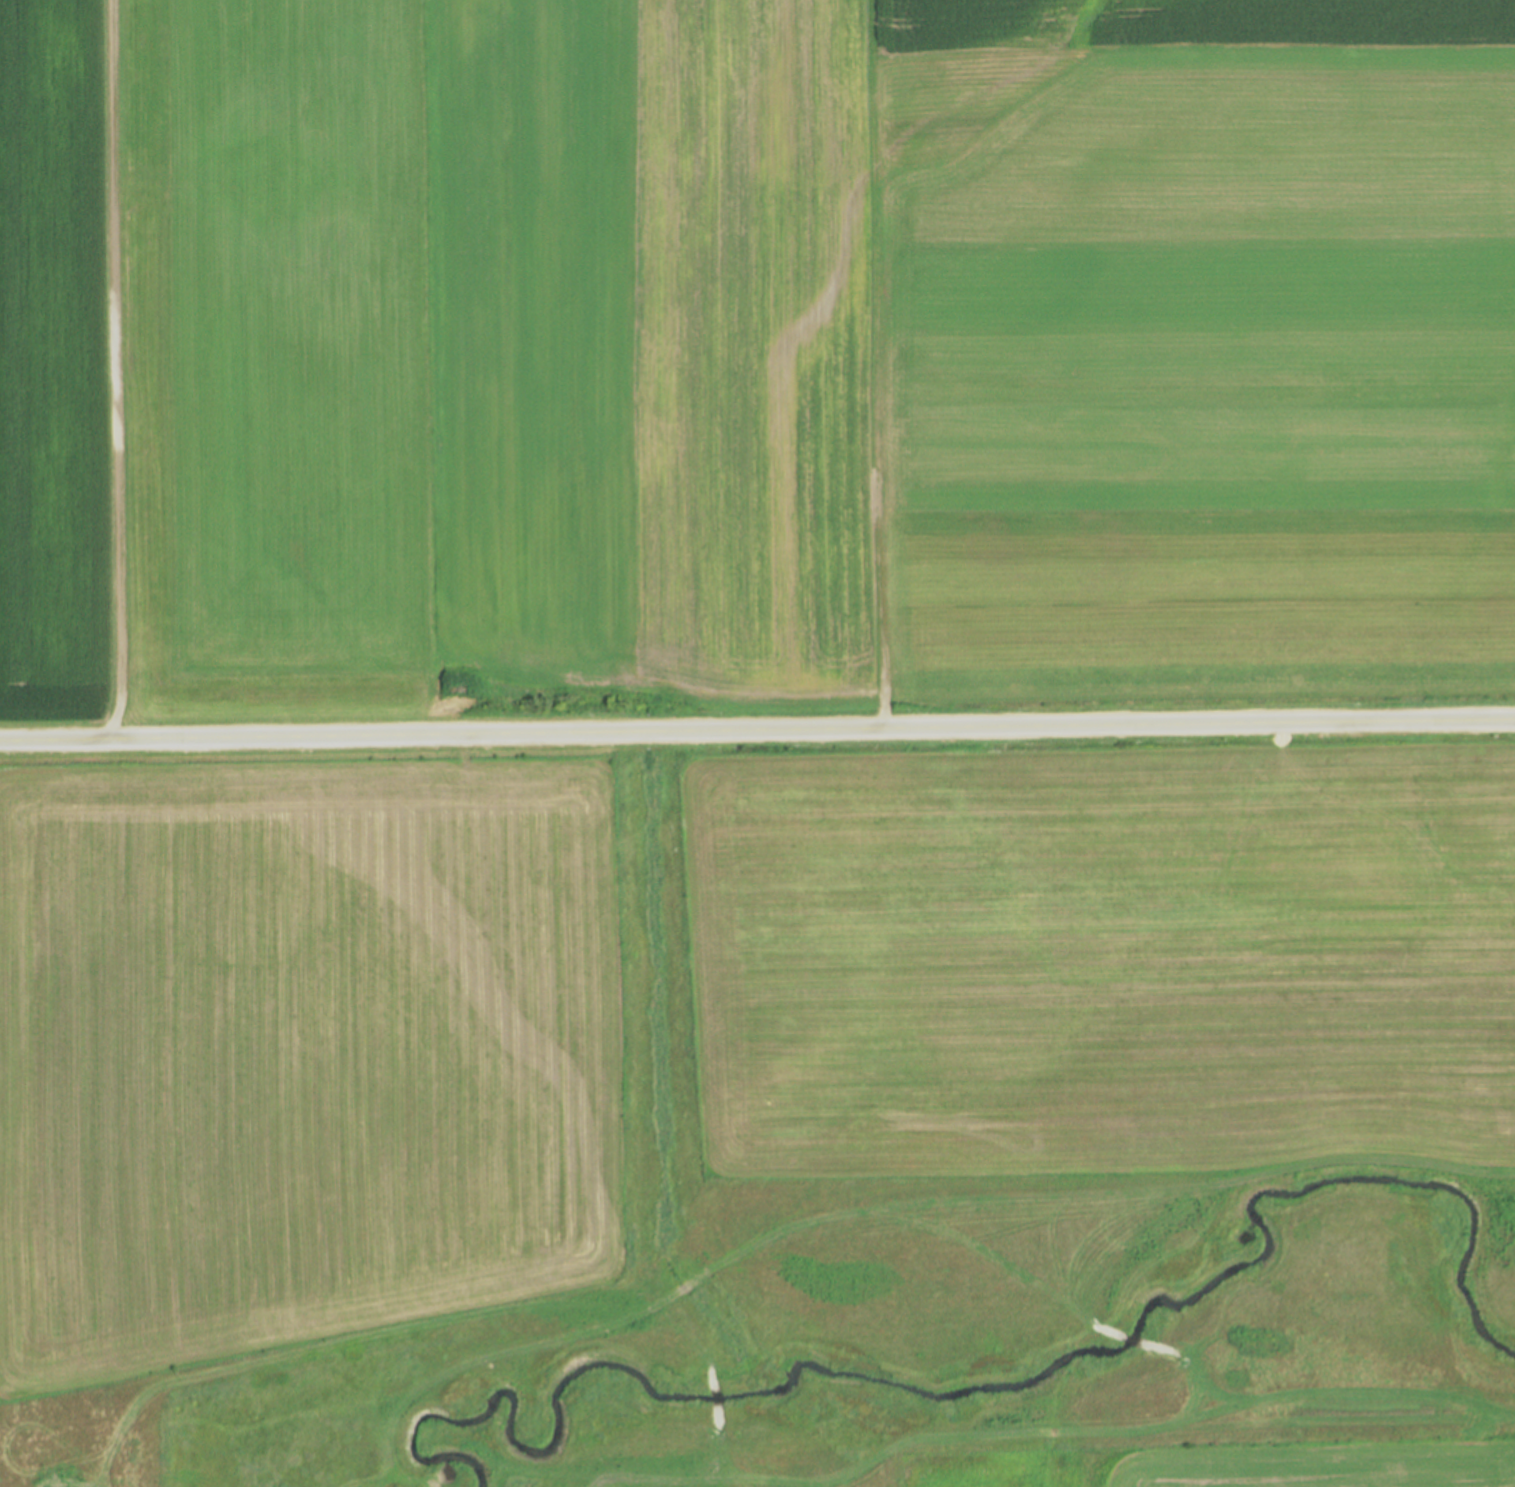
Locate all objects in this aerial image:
road: (112, 369)
road: (757, 728)

